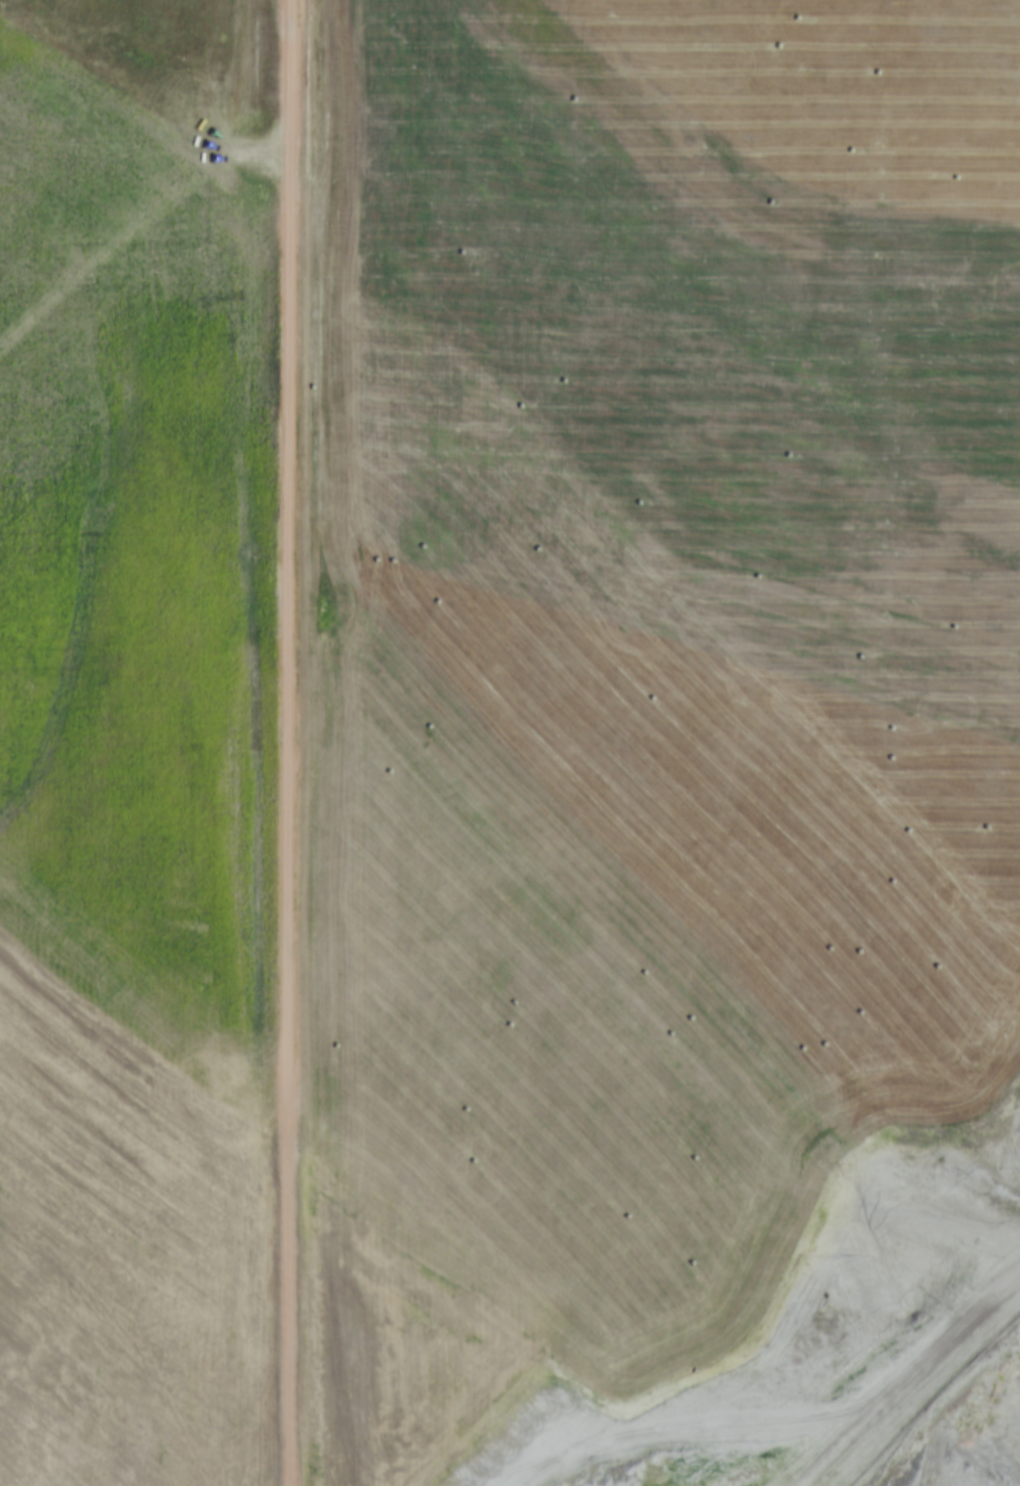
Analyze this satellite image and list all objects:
road: (297, 1151)

